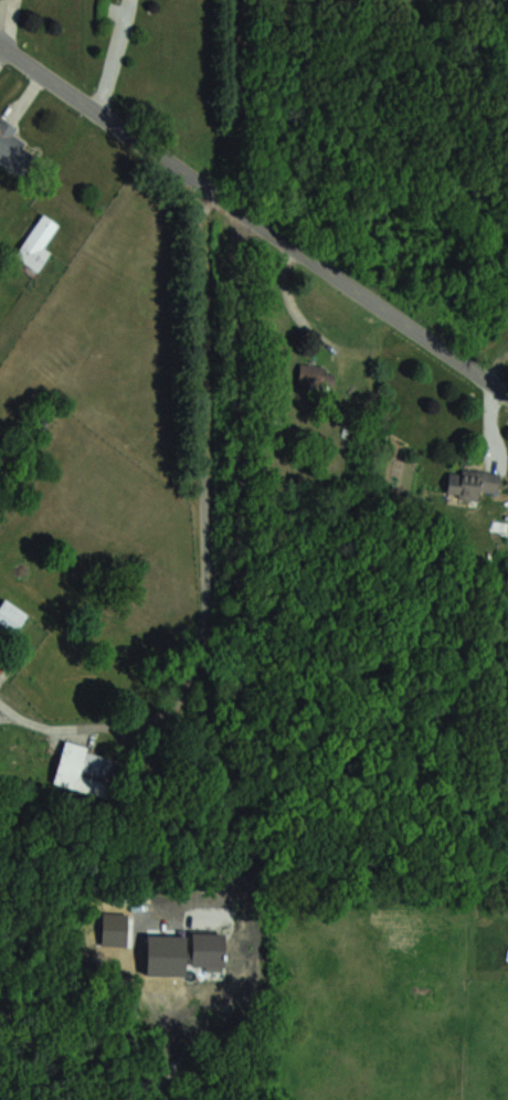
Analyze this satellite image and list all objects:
road: (109, 54)
building: (13, 149)
road: (254, 218)
building: (36, 244)
building: (309, 373)
building: (470, 483)
road: (204, 541)
road: (239, 557)
building: (85, 770)

